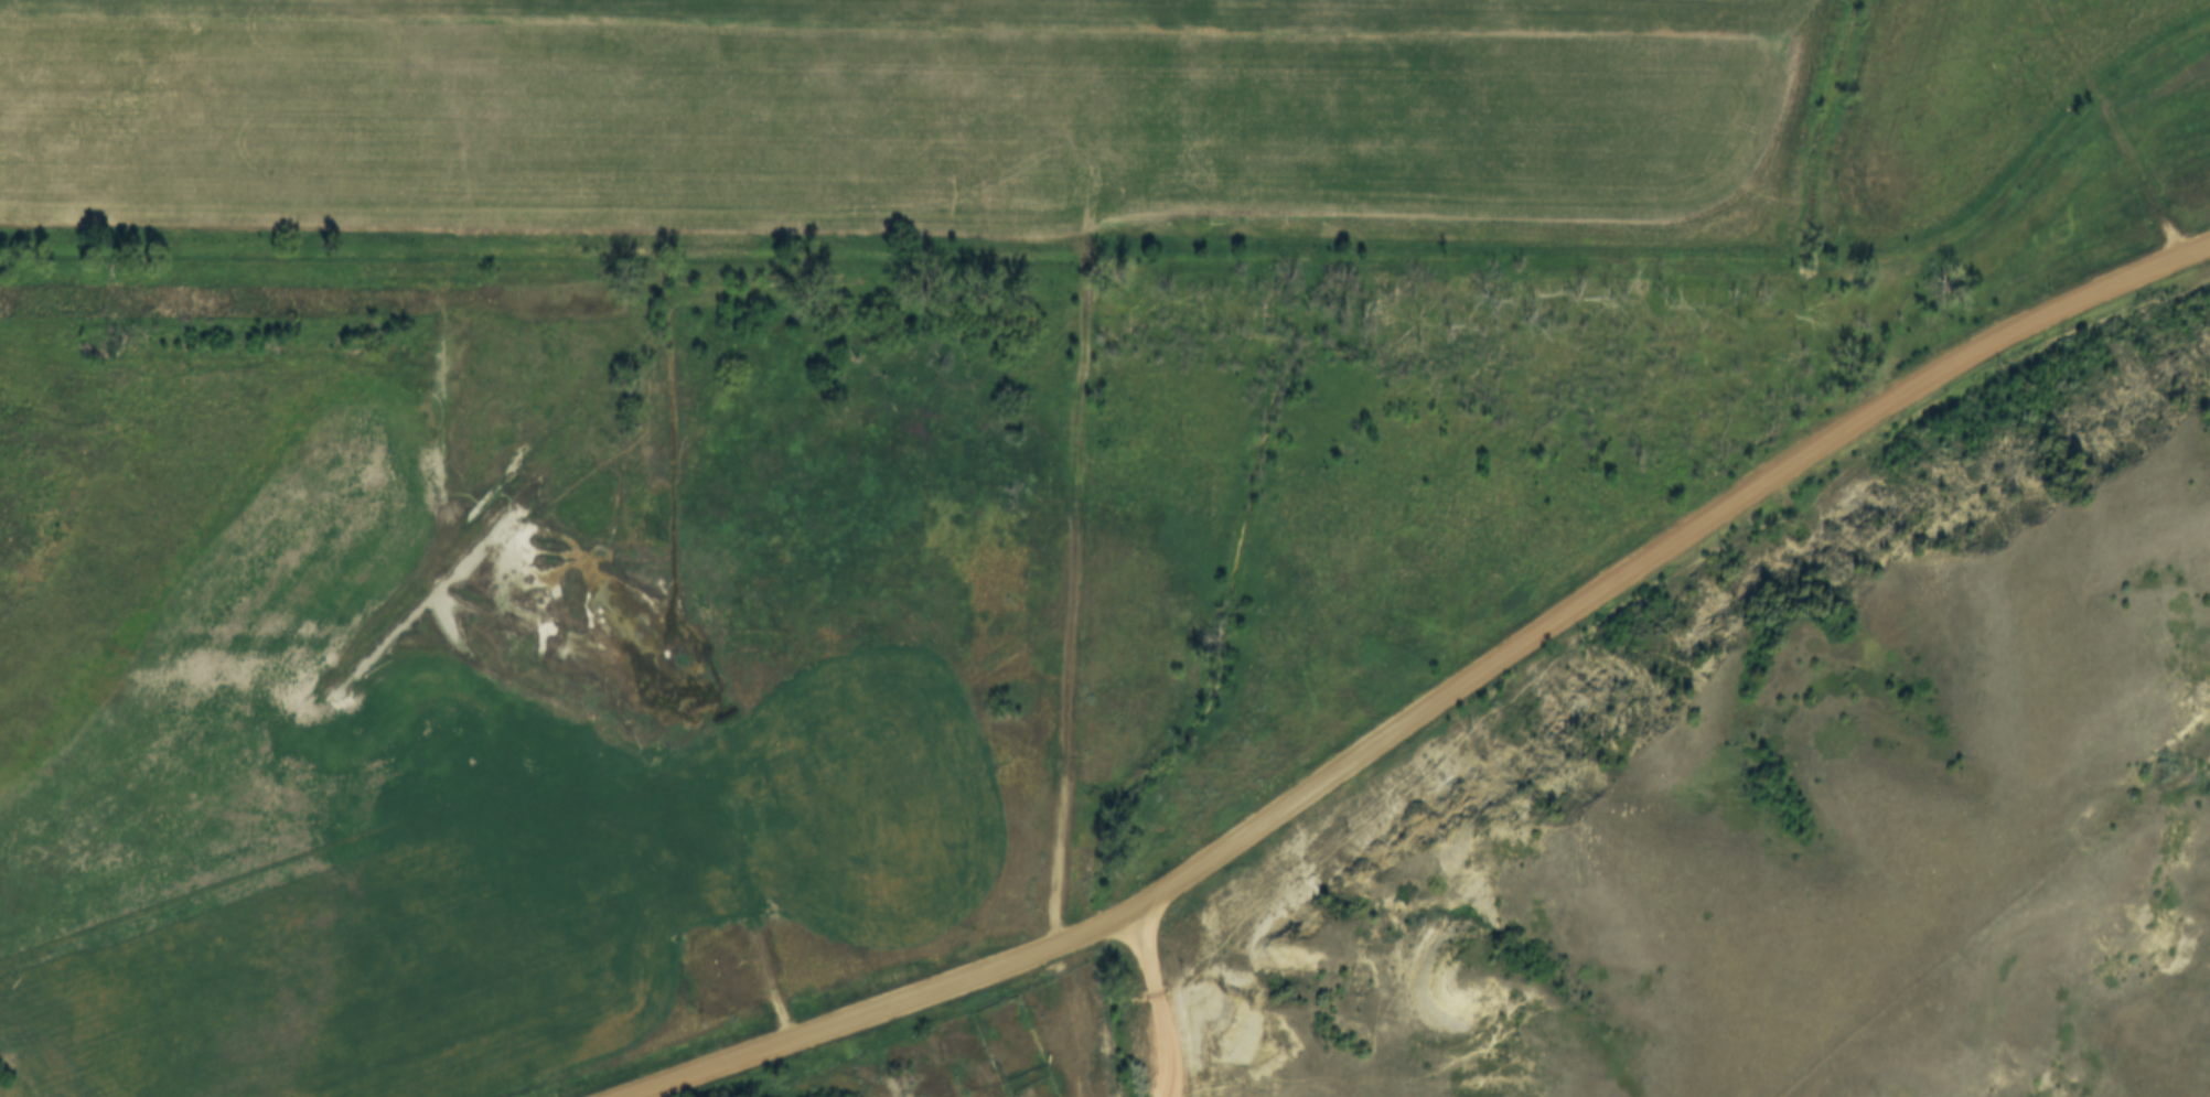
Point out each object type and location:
road: (1439, 705)
road: (1156, 1002)

